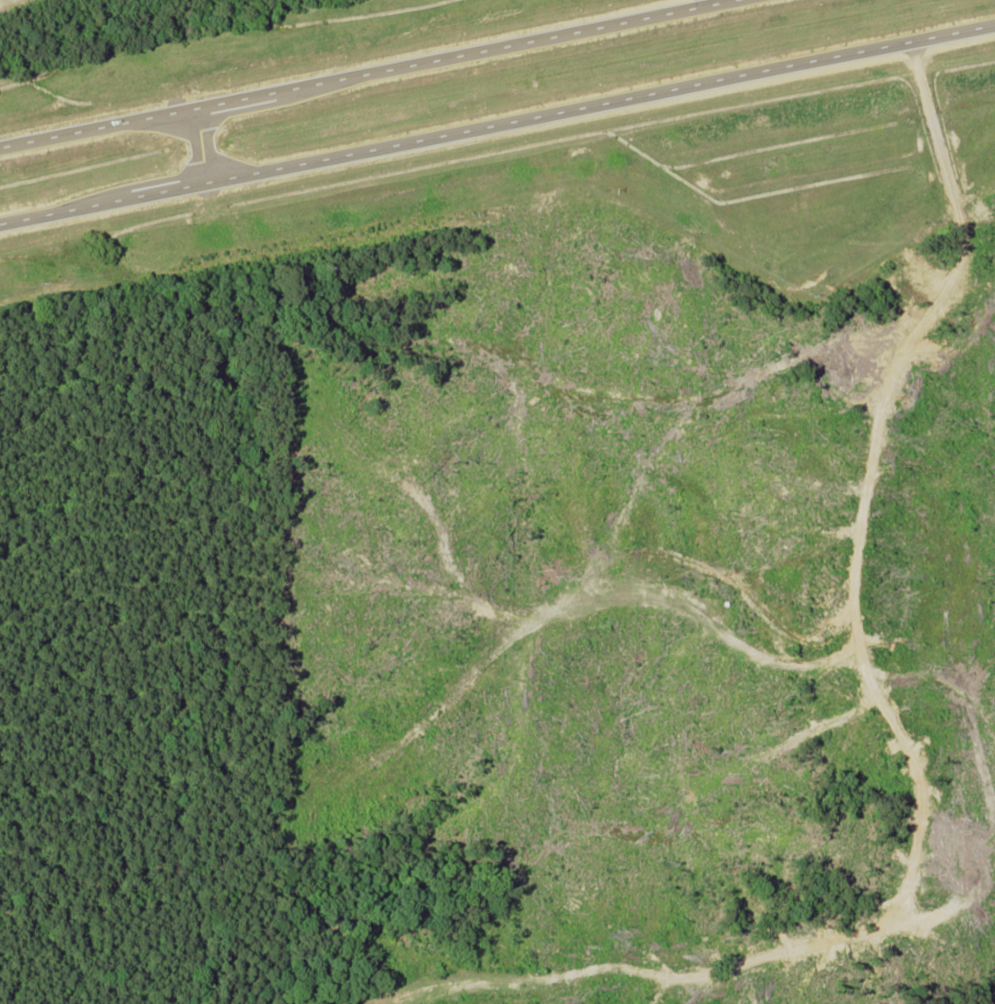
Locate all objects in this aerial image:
road: (368, 72)
road: (497, 123)
road: (198, 145)

